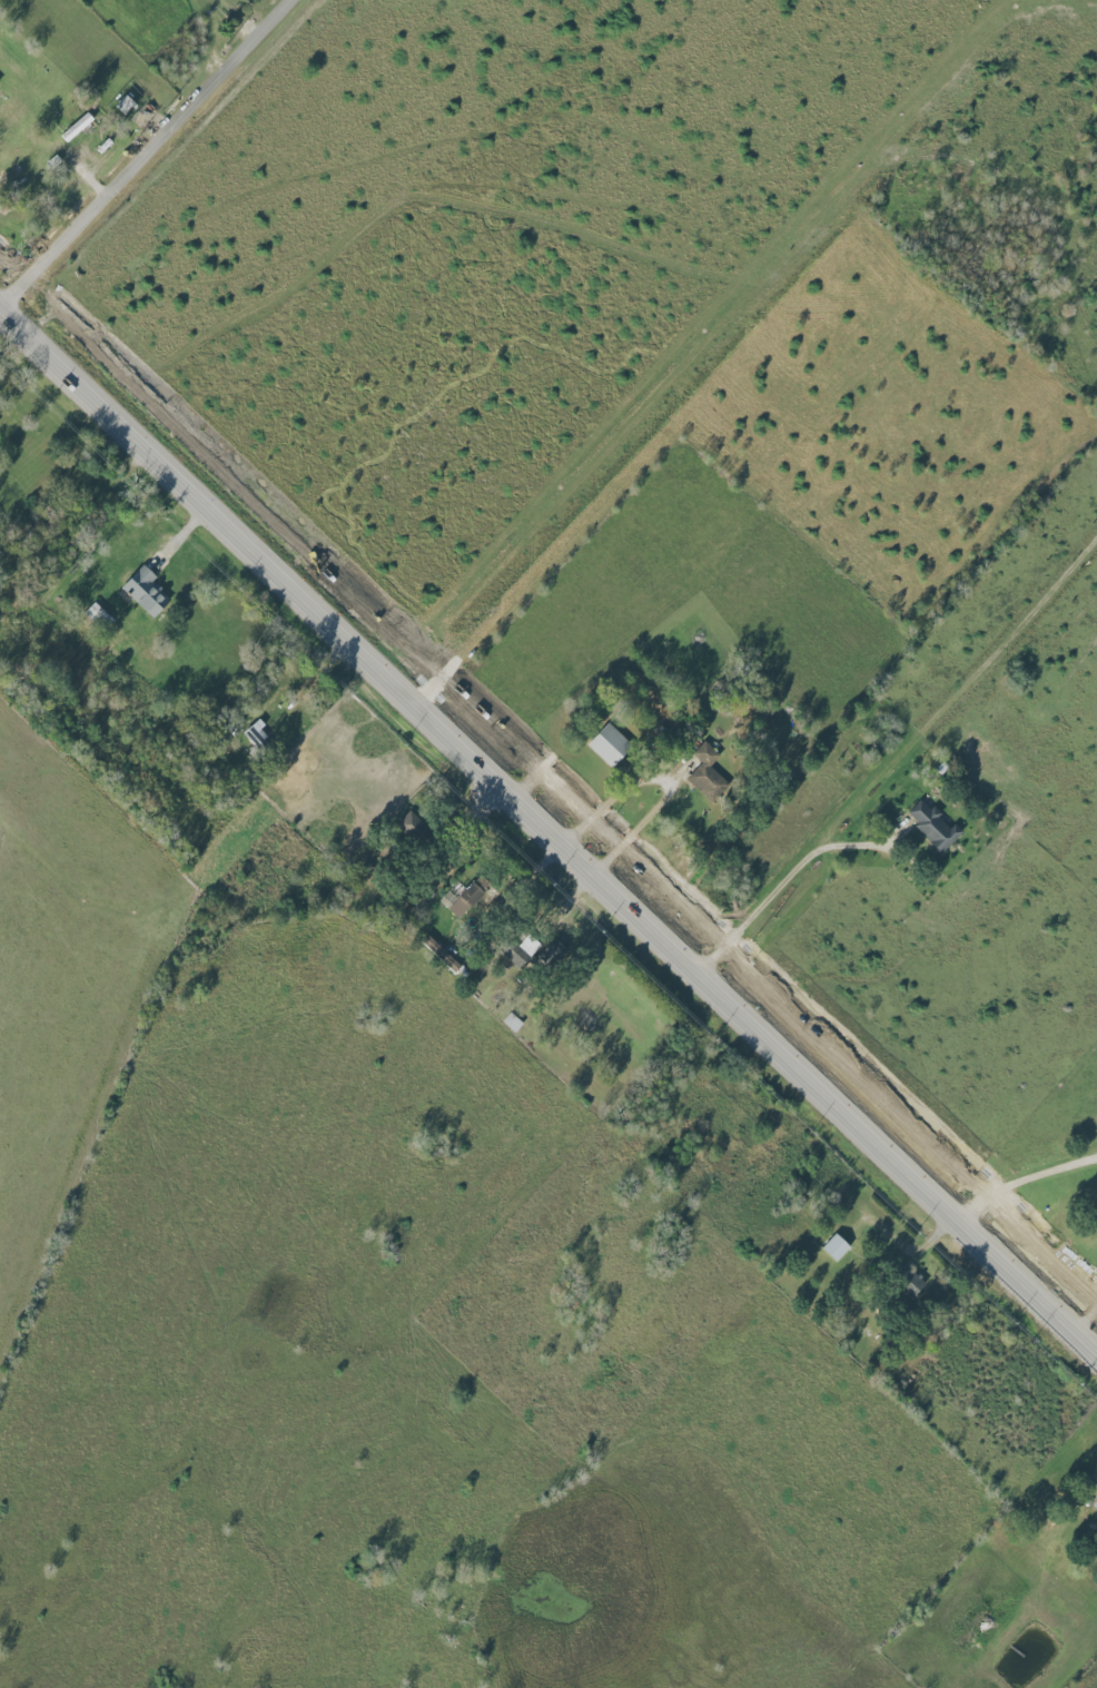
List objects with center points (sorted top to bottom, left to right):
road: (217, 33)
building: (125, 103)
building: (77, 127)
road: (149, 154)
road: (1, 306)
building: (146, 591)
road: (313, 680)
building: (256, 734)
building: (610, 744)
road: (899, 758)
building: (706, 773)
road: (661, 780)
building: (411, 826)
building: (933, 826)
road: (546, 828)
building: (471, 895)
building: (527, 945)
building: (441, 955)
building: (514, 955)
road: (1022, 1177)
building: (836, 1247)
building: (911, 1285)
road: (1086, 1316)
building: (1095, 1503)

